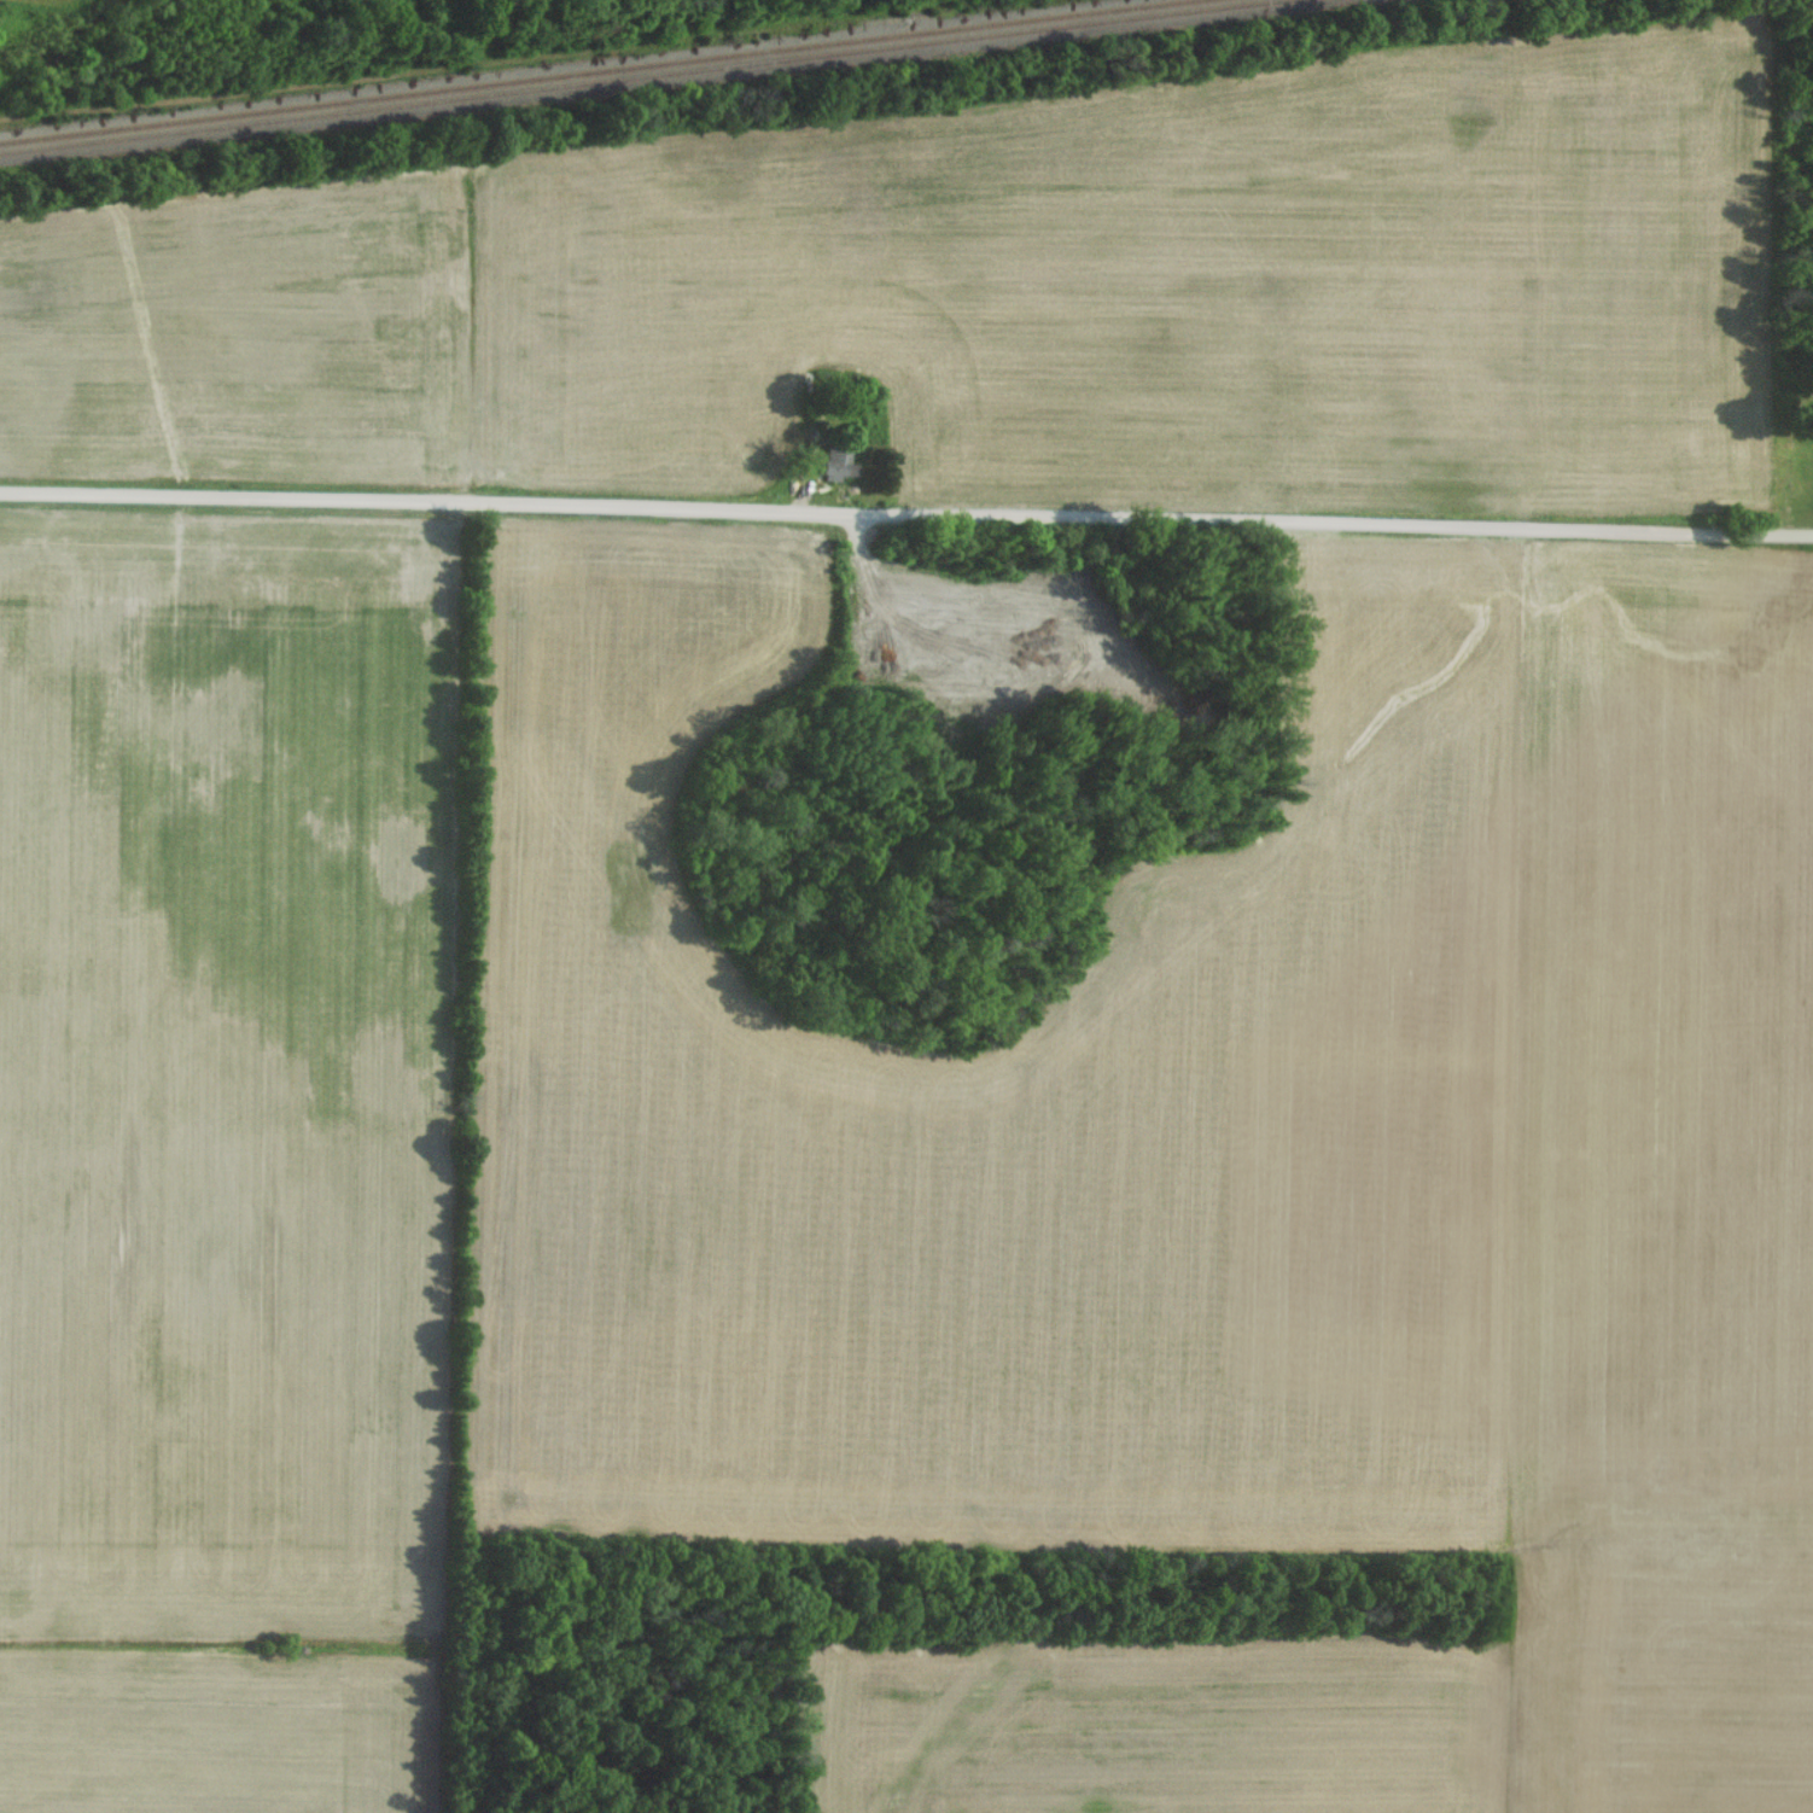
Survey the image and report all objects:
railway: (594, 71)
railway: (639, 76)
road: (906, 508)

